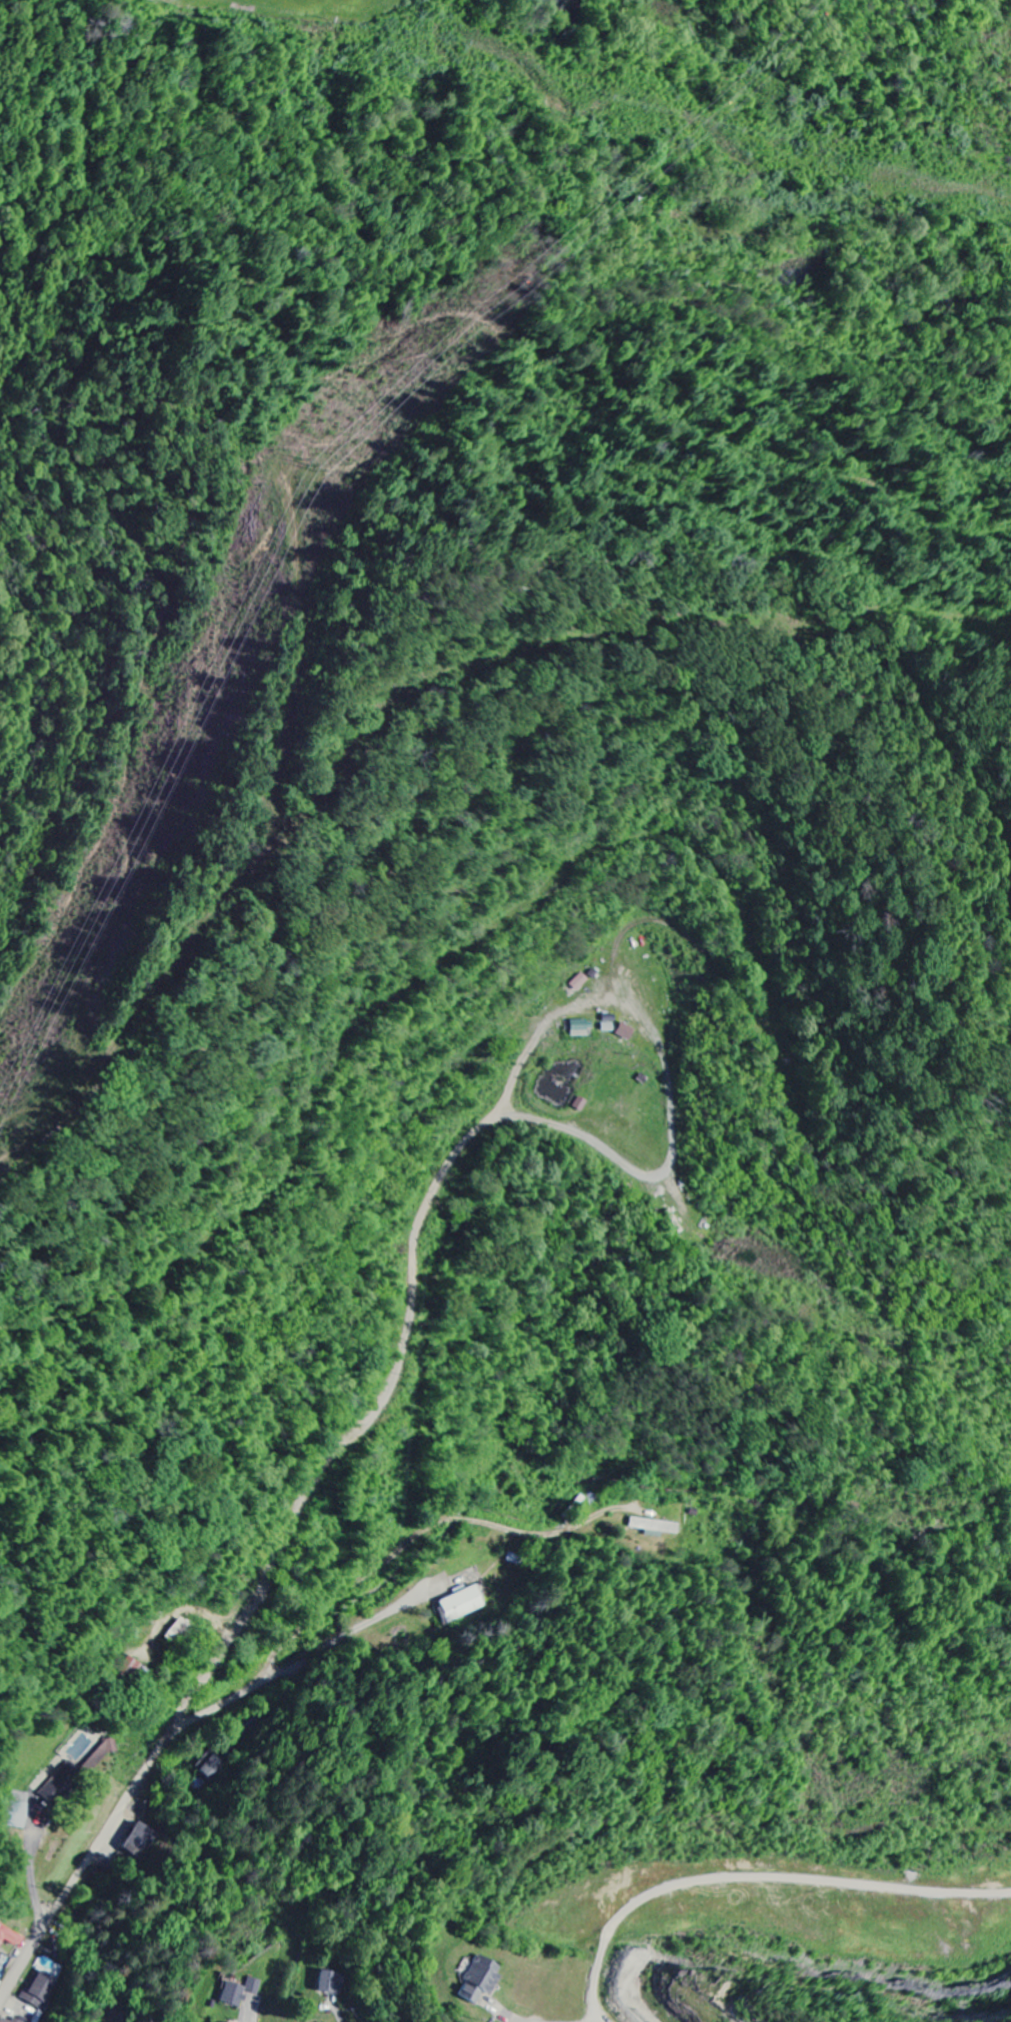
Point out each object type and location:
power tower: (319, 468)
building: (580, 983)
building: (580, 1029)
building: (626, 1033)
building: (580, 1105)
building: (656, 1528)
building: (462, 1604)
building: (101, 1755)
road: (154, 1756)
building: (19, 1810)
building: (10, 1937)
building: (481, 1980)
building: (0, 1983)
building: (330, 1983)
building: (40, 1990)
building: (239, 1992)
building: (4, 2020)
building: (15, 2020)
road: (597, 2021)

